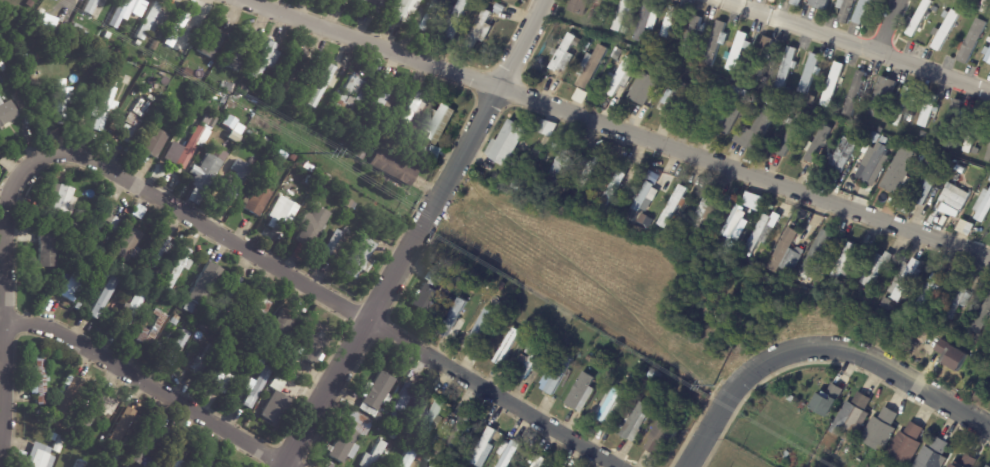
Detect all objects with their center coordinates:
building: (343, 0)
building: (507, 0)
building: (796, 2)
building: (820, 4)
building: (373, 5)
building: (985, 5)
building: (88, 6)
building: (579, 6)
building: (403, 7)
building: (500, 9)
building: (846, 9)
building: (933, 9)
building: (595, 10)
building: (121, 11)
building: (862, 11)
building: (945, 14)
building: (423, 16)
building: (622, 16)
building: (602, 17)
building: (918, 18)
building: (457, 19)
building: (647, 20)
building: (153, 21)
building: (668, 21)
road: (883, 24)
building: (177, 29)
building: (481, 30)
building: (946, 30)
building: (691, 34)
building: (107, 35)
building: (159, 36)
building: (988, 39)
building: (208, 41)
building: (649, 41)
building: (973, 41)
building: (138, 43)
building: (714, 43)
road: (858, 44)
building: (154, 45)
building: (587, 47)
building: (566, 50)
building: (738, 50)
building: (243, 52)
building: (987, 54)
building: (617, 56)
building: (762, 58)
building: (265, 60)
building: (157, 62)
building: (167, 65)
building: (591, 66)
building: (788, 68)
building: (291, 71)
building: (741, 71)
building: (186, 72)
building: (810, 74)
building: (14, 75)
building: (621, 77)
building: (128, 80)
building: (324, 83)
building: (728, 83)
building: (648, 84)
building: (831, 84)
building: (226, 87)
building: (243, 88)
building: (855, 93)
building: (350, 96)
building: (582, 96)
building: (882, 97)
building: (60, 101)
building: (672, 101)
building: (379, 102)
building: (268, 103)
building: (775, 103)
building: (706, 105)
building: (902, 106)
building: (105, 107)
building: (410, 110)
building: (928, 110)
building: (732, 111)
building: (9, 113)
building: (304, 113)
building: (909, 118)
building: (326, 120)
building: (951, 121)
building: (439, 124)
building: (130, 127)
building: (548, 127)
building: (758, 130)
building: (882, 130)
building: (239, 131)
road: (623, 132)
building: (973, 133)
building: (793, 139)
building: (265, 141)
building: (343, 142)
building: (508, 142)
building: (155, 143)
building: (819, 144)
building: (192, 146)
building: (554, 146)
building: (351, 147)
building: (361, 152)
building: (431, 152)
building: (414, 154)
building: (282, 155)
building: (846, 156)
building: (988, 156)
building: (831, 157)
building: (293, 158)
building: (566, 163)
building: (870, 166)
building: (392, 167)
building: (207, 172)
building: (591, 172)
building: (897, 176)
building: (312, 182)
building: (519, 183)
building: (235, 184)
building: (929, 184)
building: (324, 185)
building: (613, 191)
building: (577, 198)
building: (258, 199)
building: (950, 200)
building: (641, 201)
building: (61, 202)
building: (729, 202)
building: (349, 203)
building: (72, 205)
building: (982, 206)
building: (674, 207)
building: (139, 211)
building: (703, 212)
building: (283, 214)
building: (100, 222)
building: (649, 222)
building: (737, 225)
building: (312, 226)
building: (379, 227)
building: (967, 228)
building: (760, 234)
building: (27, 235)
road: (417, 235)
building: (70, 236)
building: (716, 241)
building: (336, 243)
building: (128, 244)
building: (84, 246)
building: (731, 246)
building: (47, 248)
building: (157, 250)
building: (818, 251)
building: (787, 253)
building: (358, 258)
building: (107, 261)
building: (846, 262)
building: (113, 264)
building: (124, 268)
building: (178, 268)
building: (876, 268)
building: (103, 273)
building: (802, 273)
building: (142, 276)
building: (807, 276)
building: (483, 278)
building: (907, 278)
building: (205, 284)
building: (818, 284)
building: (450, 285)
building: (73, 286)
building: (502, 287)
building: (929, 290)
building: (863, 291)
road: (3, 293)
building: (427, 293)
building: (227, 296)
building: (104, 297)
road: (332, 297)
building: (158, 300)
building: (960, 302)
building: (887, 303)
building: (259, 306)
building: (190, 307)
building: (985, 310)
building: (131, 311)
building: (892, 313)
building: (454, 317)
building: (175, 320)
building: (282, 325)
building: (527, 325)
building: (480, 328)
building: (152, 330)
building: (539, 330)
building: (937, 333)
building: (959, 333)
building: (989, 338)
building: (313, 344)
building: (232, 346)
building: (507, 346)
building: (563, 347)
road: (820, 347)
building: (258, 348)
building: (175, 349)
building: (953, 356)
building: (918, 357)
building: (589, 358)
building: (203, 359)
building: (529, 360)
building: (262, 361)
building: (287, 361)
building: (288, 369)
building: (559, 375)
building: (657, 376)
building: (40, 377)
building: (225, 378)
road: (150, 386)
building: (257, 387)
building: (582, 393)
building: (376, 394)
building: (66, 399)
building: (275, 400)
building: (828, 400)
building: (401, 402)
building: (612, 405)
building: (98, 410)
building: (41, 411)
building: (854, 418)
building: (431, 420)
building: (637, 423)
building: (122, 425)
building: (460, 430)
building: (882, 430)
building: (389, 432)
building: (665, 433)
building: (54, 437)
building: (394, 437)
building: (350, 438)
building: (86, 439)
building: (145, 443)
building: (58, 444)
building: (417, 444)
building: (78, 445)
building: (908, 445)
building: (483, 446)
building: (426, 447)
building: (110, 451)
building: (435, 452)
building: (119, 455)
building: (511, 455)
building: (935, 455)
building: (371, 456)
building: (40, 457)
building: (178, 457)
building: (428, 458)
building: (408, 459)
building: (203, 460)
building: (966, 461)
building: (539, 462)
building: (80, 464)
building: (434, 465)
building: (139, 466)
building: (985, 466)
building: (989, 466)

